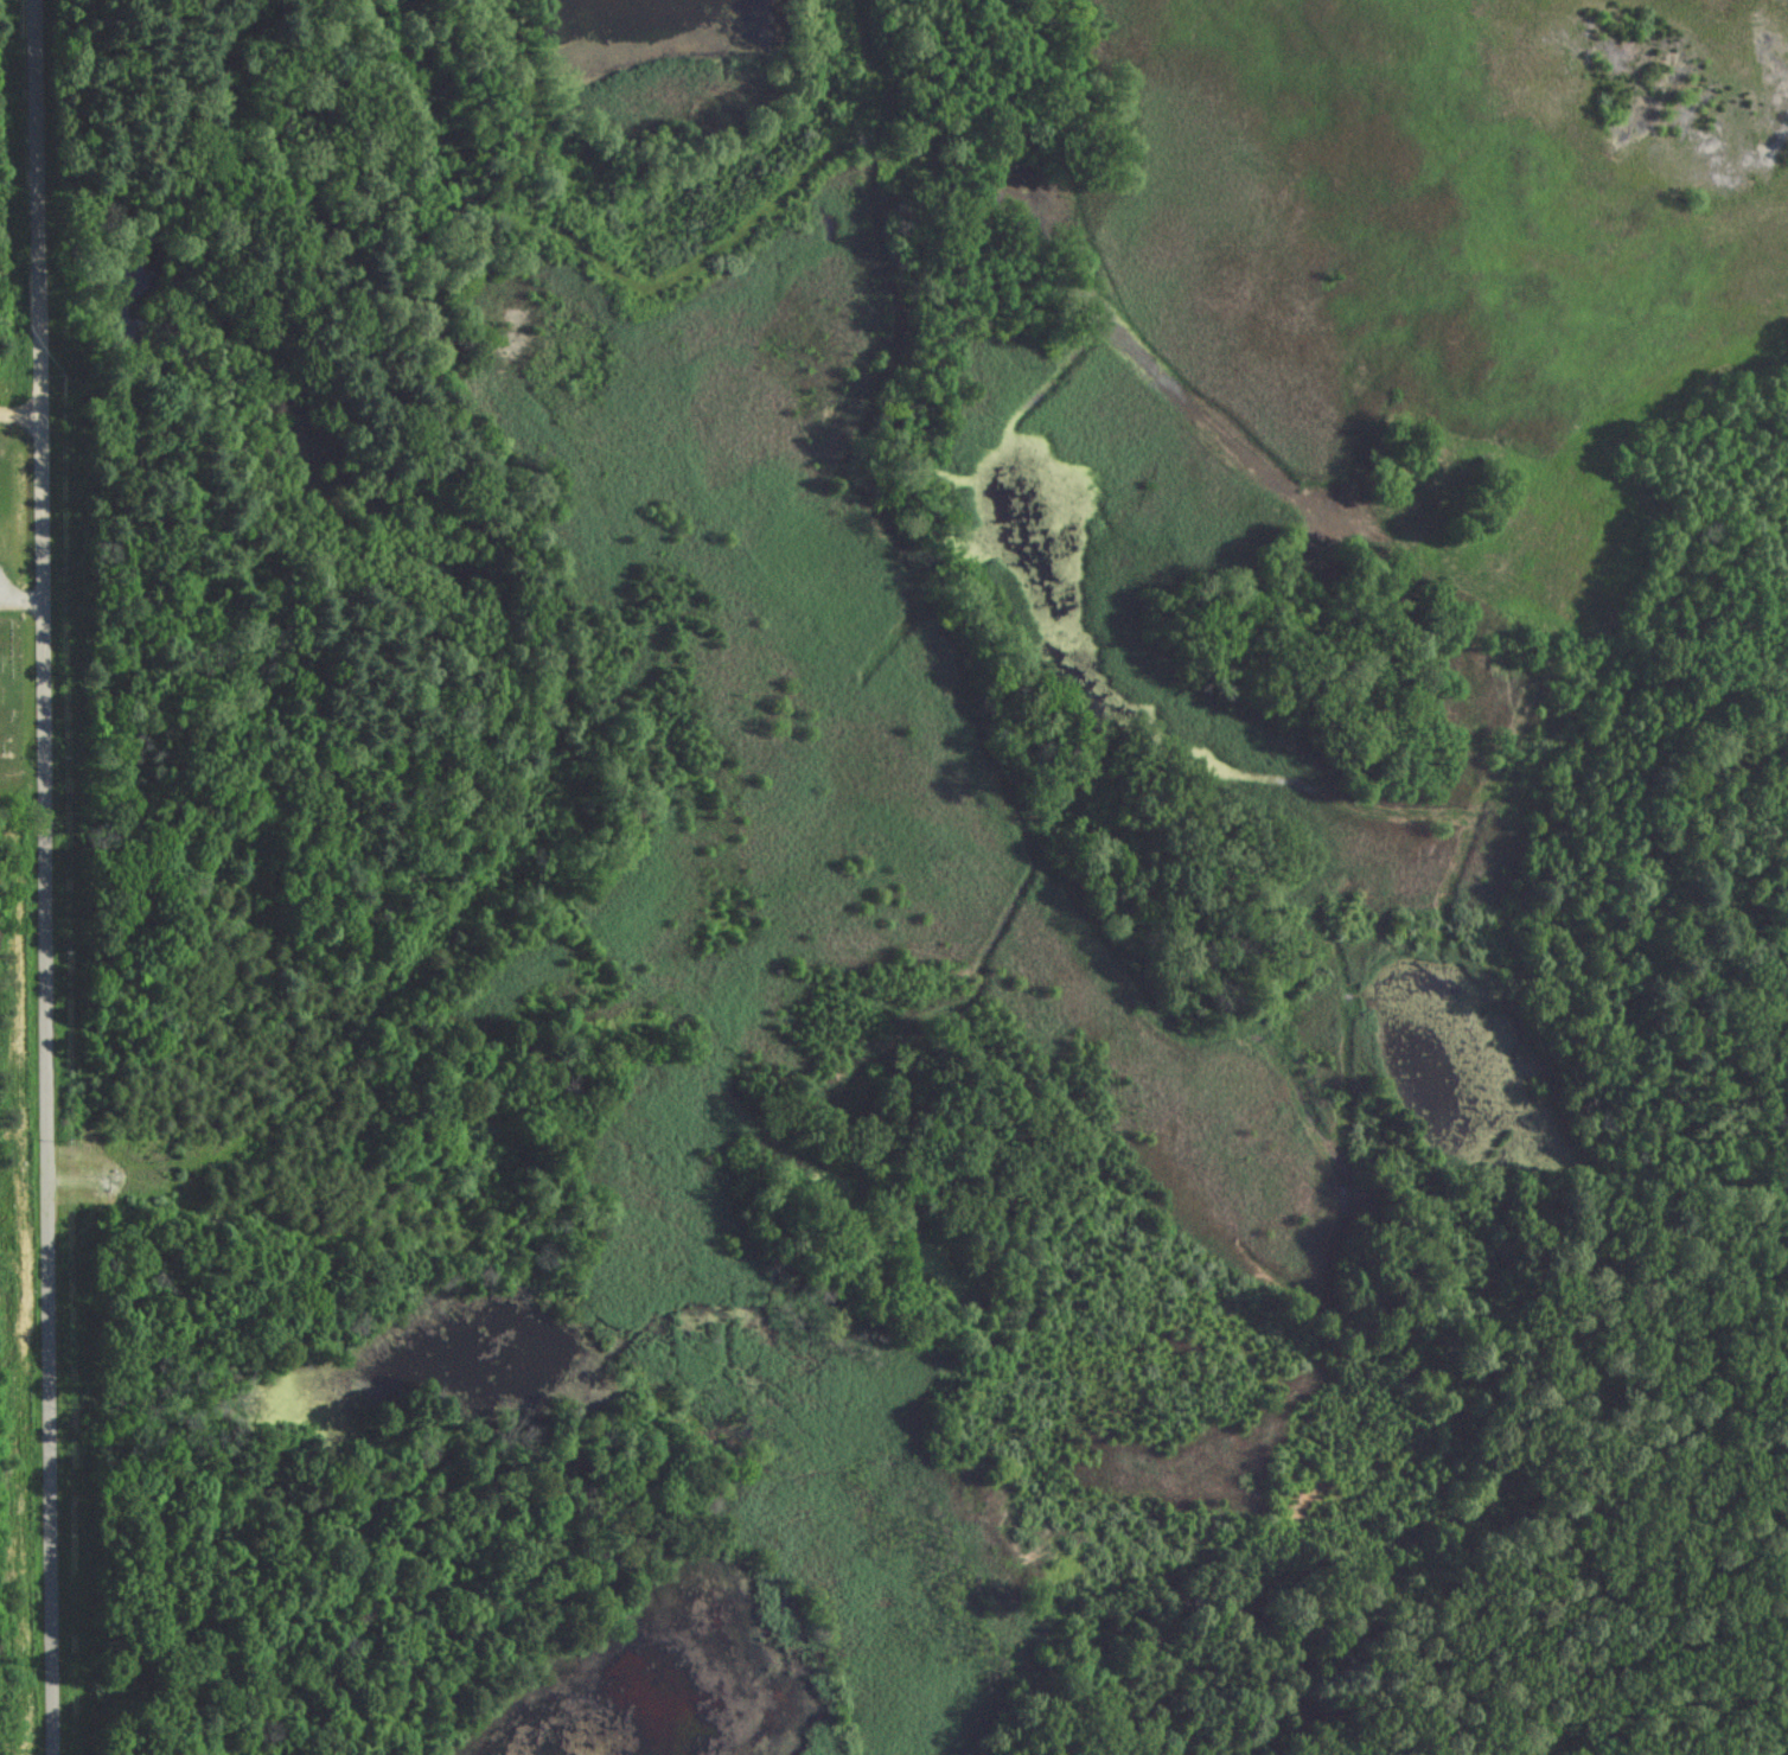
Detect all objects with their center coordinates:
road: (24, 407)
road: (52, 876)

